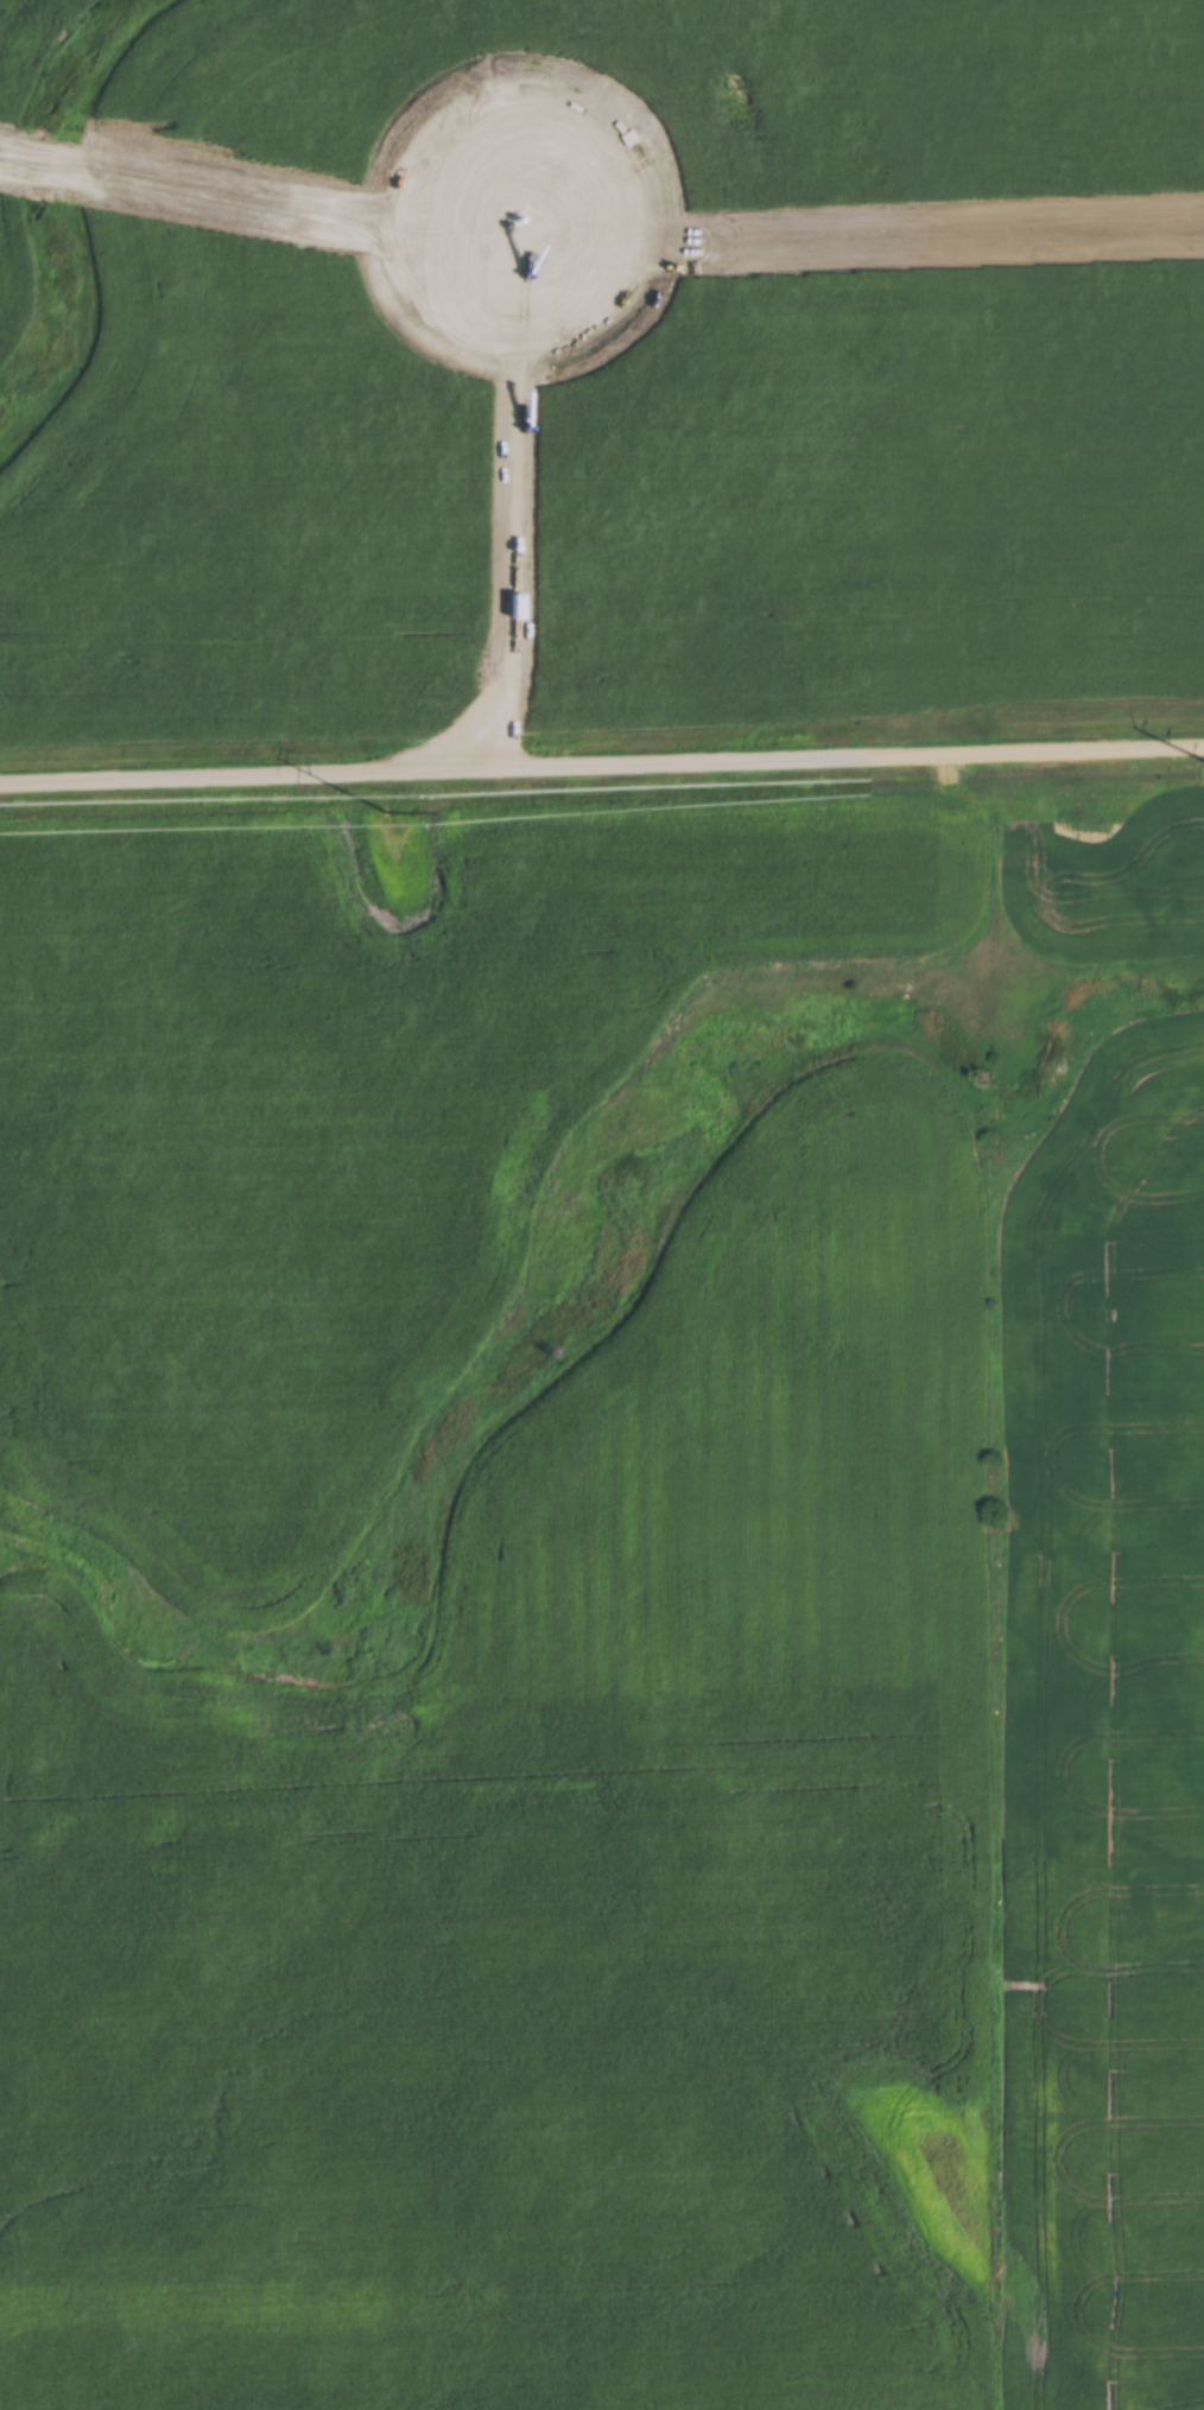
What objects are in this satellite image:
wind turbine: (518, 232)
road: (601, 760)
power tower: (386, 810)

